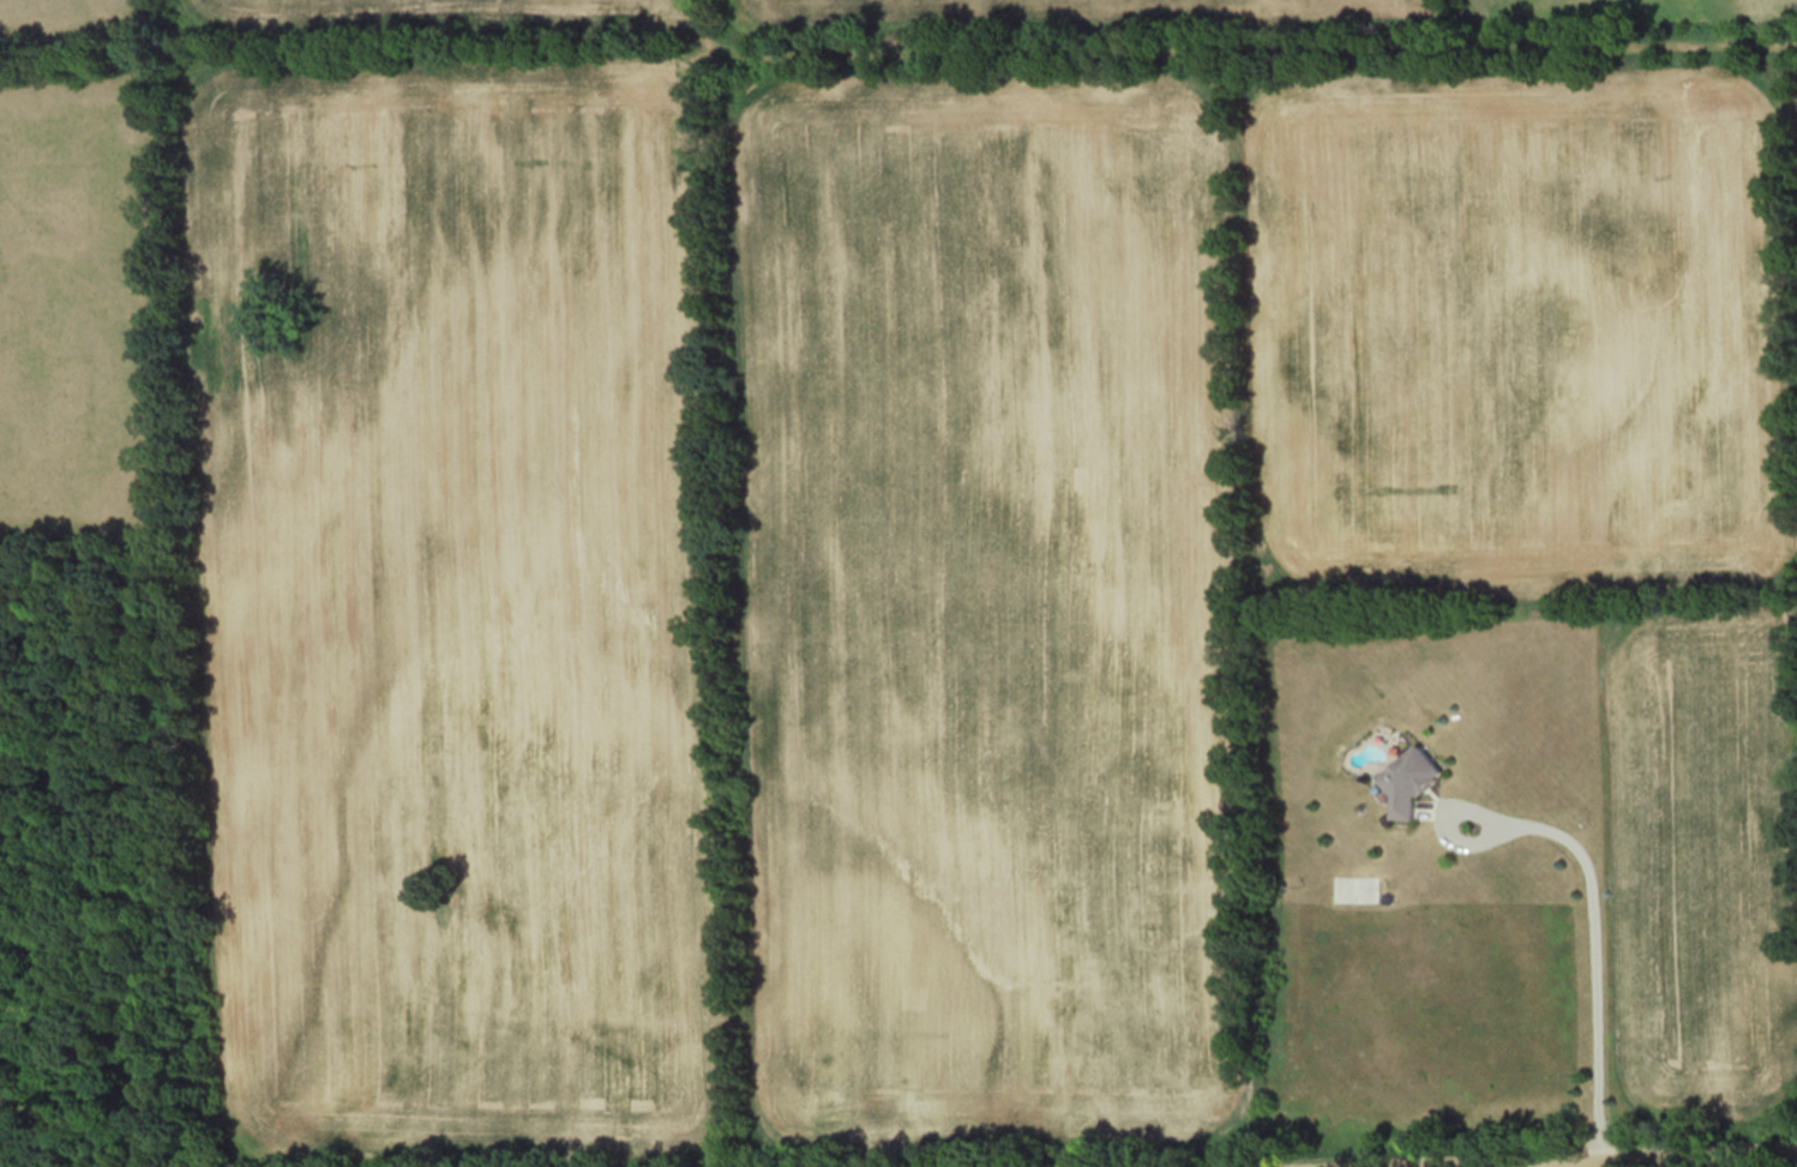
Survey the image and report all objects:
building: (1410, 778)
road: (1593, 926)
road: (1663, 1145)
road: (1310, 1159)
road: (1528, 1159)

